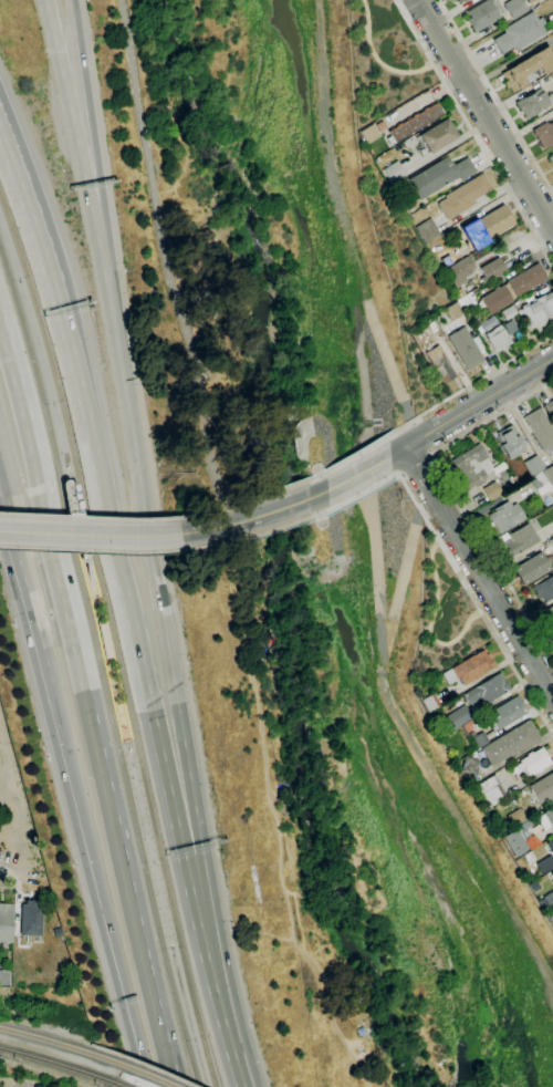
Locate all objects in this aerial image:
building: (461, 0)
building: (532, 1)
building: (541, 1)
building: (514, 8)
road: (401, 11)
building: (483, 14)
building: (520, 32)
road: (376, 59)
park: (384, 60)
building: (528, 69)
road: (494, 97)
building: (533, 102)
road: (484, 114)
building: (414, 123)
building: (368, 133)
building: (544, 133)
building: (436, 137)
road: (326, 143)
road: (480, 143)
building: (551, 158)
road: (10, 165)
road: (10, 169)
building: (394, 172)
building: (439, 176)
road: (86, 187)
road: (101, 187)
building: (463, 196)
building: (409, 206)
building: (492, 222)
building: (427, 230)
building: (447, 235)
road: (35, 241)
building: (473, 245)
road: (163, 265)
building: (492, 269)
building: (460, 271)
building: (512, 289)
building: (459, 293)
building: (468, 300)
building: (539, 308)
building: (455, 311)
building: (509, 312)
building: (430, 325)
building: (499, 339)
building: (467, 348)
road: (384, 351)
road: (358, 363)
building: (440, 364)
road: (470, 385)
road: (477, 402)
building: (549, 408)
road: (413, 423)
building: (552, 424)
building: (540, 427)
road: (421, 438)
building: (510, 442)
road: (395, 451)
road: (356, 454)
road: (431, 454)
road: (416, 464)
building: (533, 465)
building: (472, 466)
road: (367, 469)
road: (357, 473)
building: (549, 474)
road: (396, 475)
road: (403, 475)
road: (316, 476)
building: (503, 476)
building: (514, 482)
building: (541, 484)
road: (278, 490)
building: (492, 490)
road: (359, 493)
road: (317, 495)
road: (457, 495)
road: (280, 508)
road: (79, 511)
road: (212, 511)
road: (319, 514)
building: (505, 516)
road: (81, 518)
road: (88, 518)
road: (283, 526)
road: (216, 528)
road: (90, 535)
road: (8, 536)
building: (521, 539)
building: (552, 540)
road: (220, 543)
river: (288, 546)
road: (92, 551)
road: (86, 552)
building: (532, 568)
road: (477, 572)
building: (544, 589)
road: (398, 593)
road: (34, 603)
road: (477, 604)
building: (550, 613)
park: (444, 615)
road: (431, 619)
road: (34, 630)
railway: (114, 638)
building: (104, 639)
railway: (104, 639)
road: (137, 655)
railway: (100, 663)
building: (469, 669)
building: (488, 690)
road: (90, 700)
road: (177, 701)
building: (429, 703)
building: (505, 713)
building: (458, 716)
building: (479, 741)
building: (511, 743)
road: (418, 754)
building: (531, 764)
building: (469, 767)
building: (543, 787)
building: (491, 791)
building: (517, 817)
building: (546, 819)
building: (517, 842)
building: (530, 858)
building: (545, 865)
building: (552, 874)
road: (12, 877)
building: (552, 881)
building: (534, 886)
building: (546, 900)
road: (102, 901)
road: (18, 913)
building: (30, 921)
building: (6, 922)
building: (4, 979)
road: (550, 997)
railway: (60, 1044)
road: (232, 1057)
railway: (59, 1066)
railway: (145, 1075)
road: (145, 1075)
road: (177, 1081)

